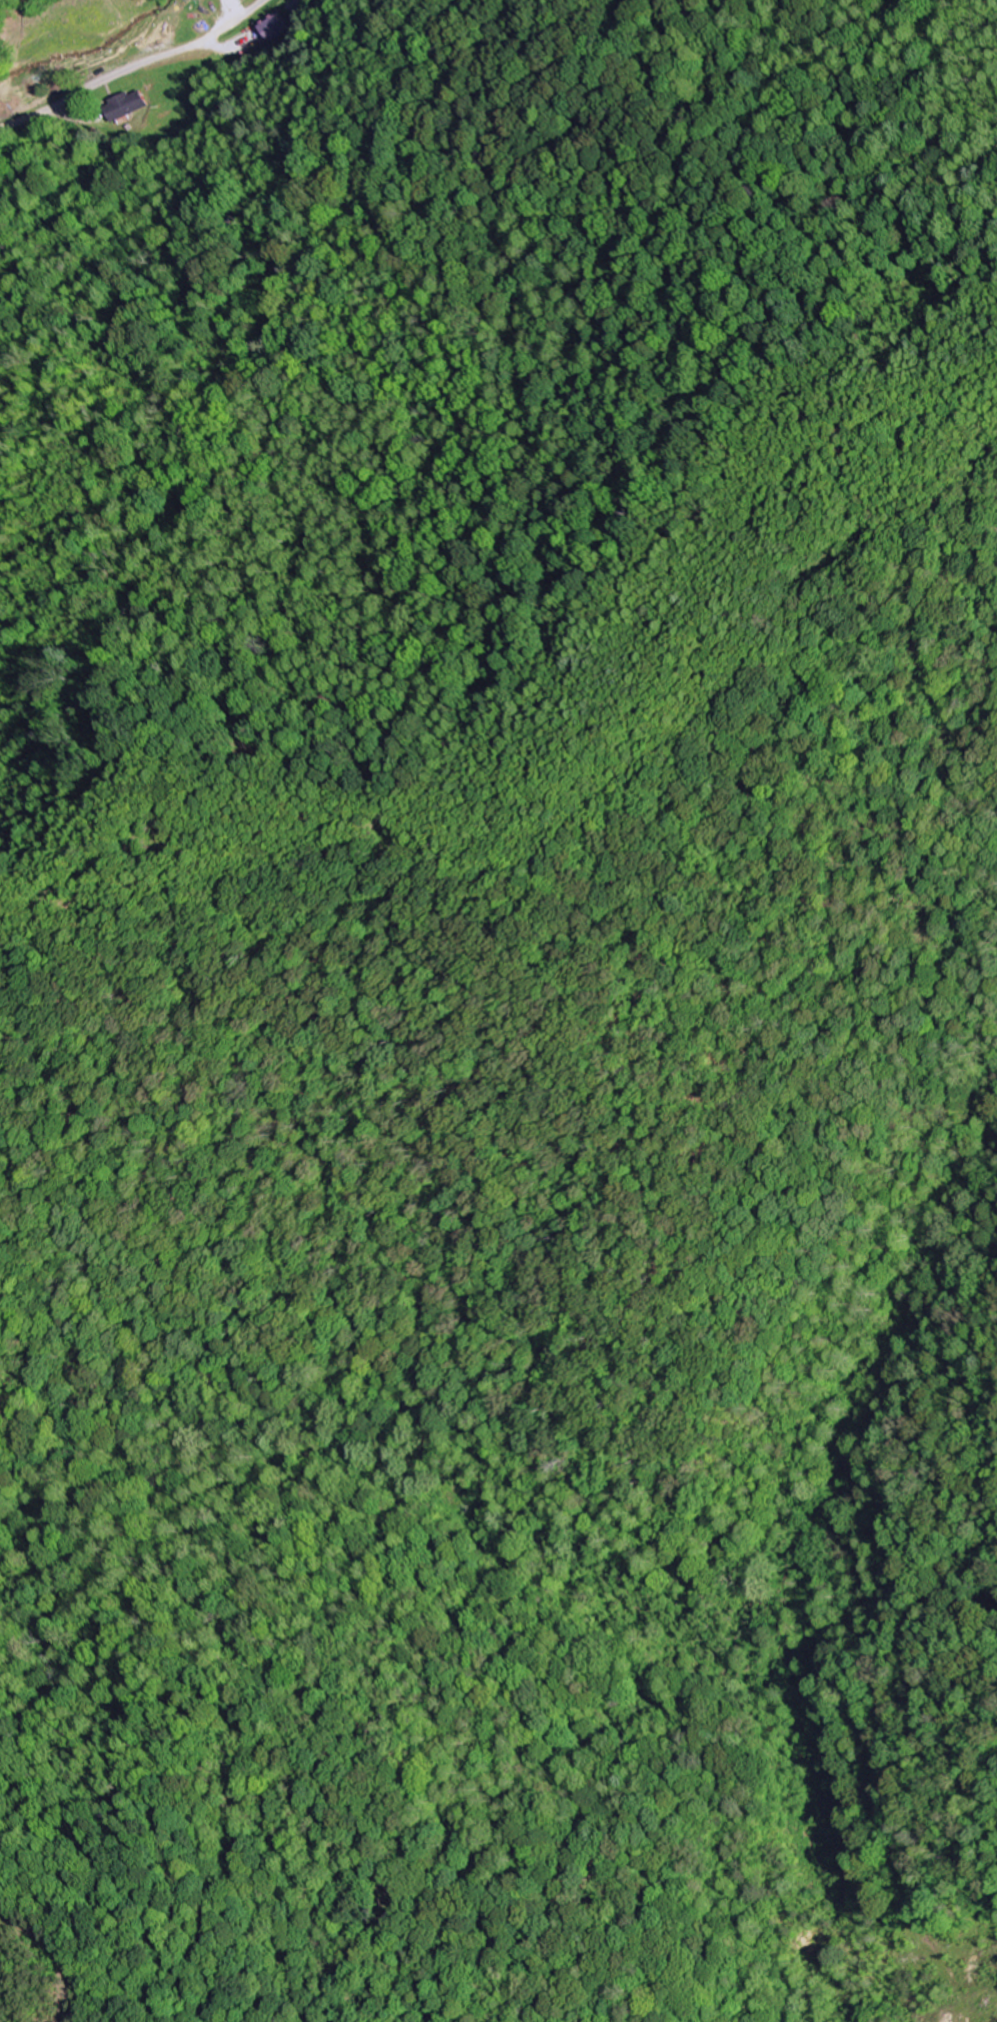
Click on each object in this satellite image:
building: (269, 27)
road: (130, 66)
building: (125, 106)

